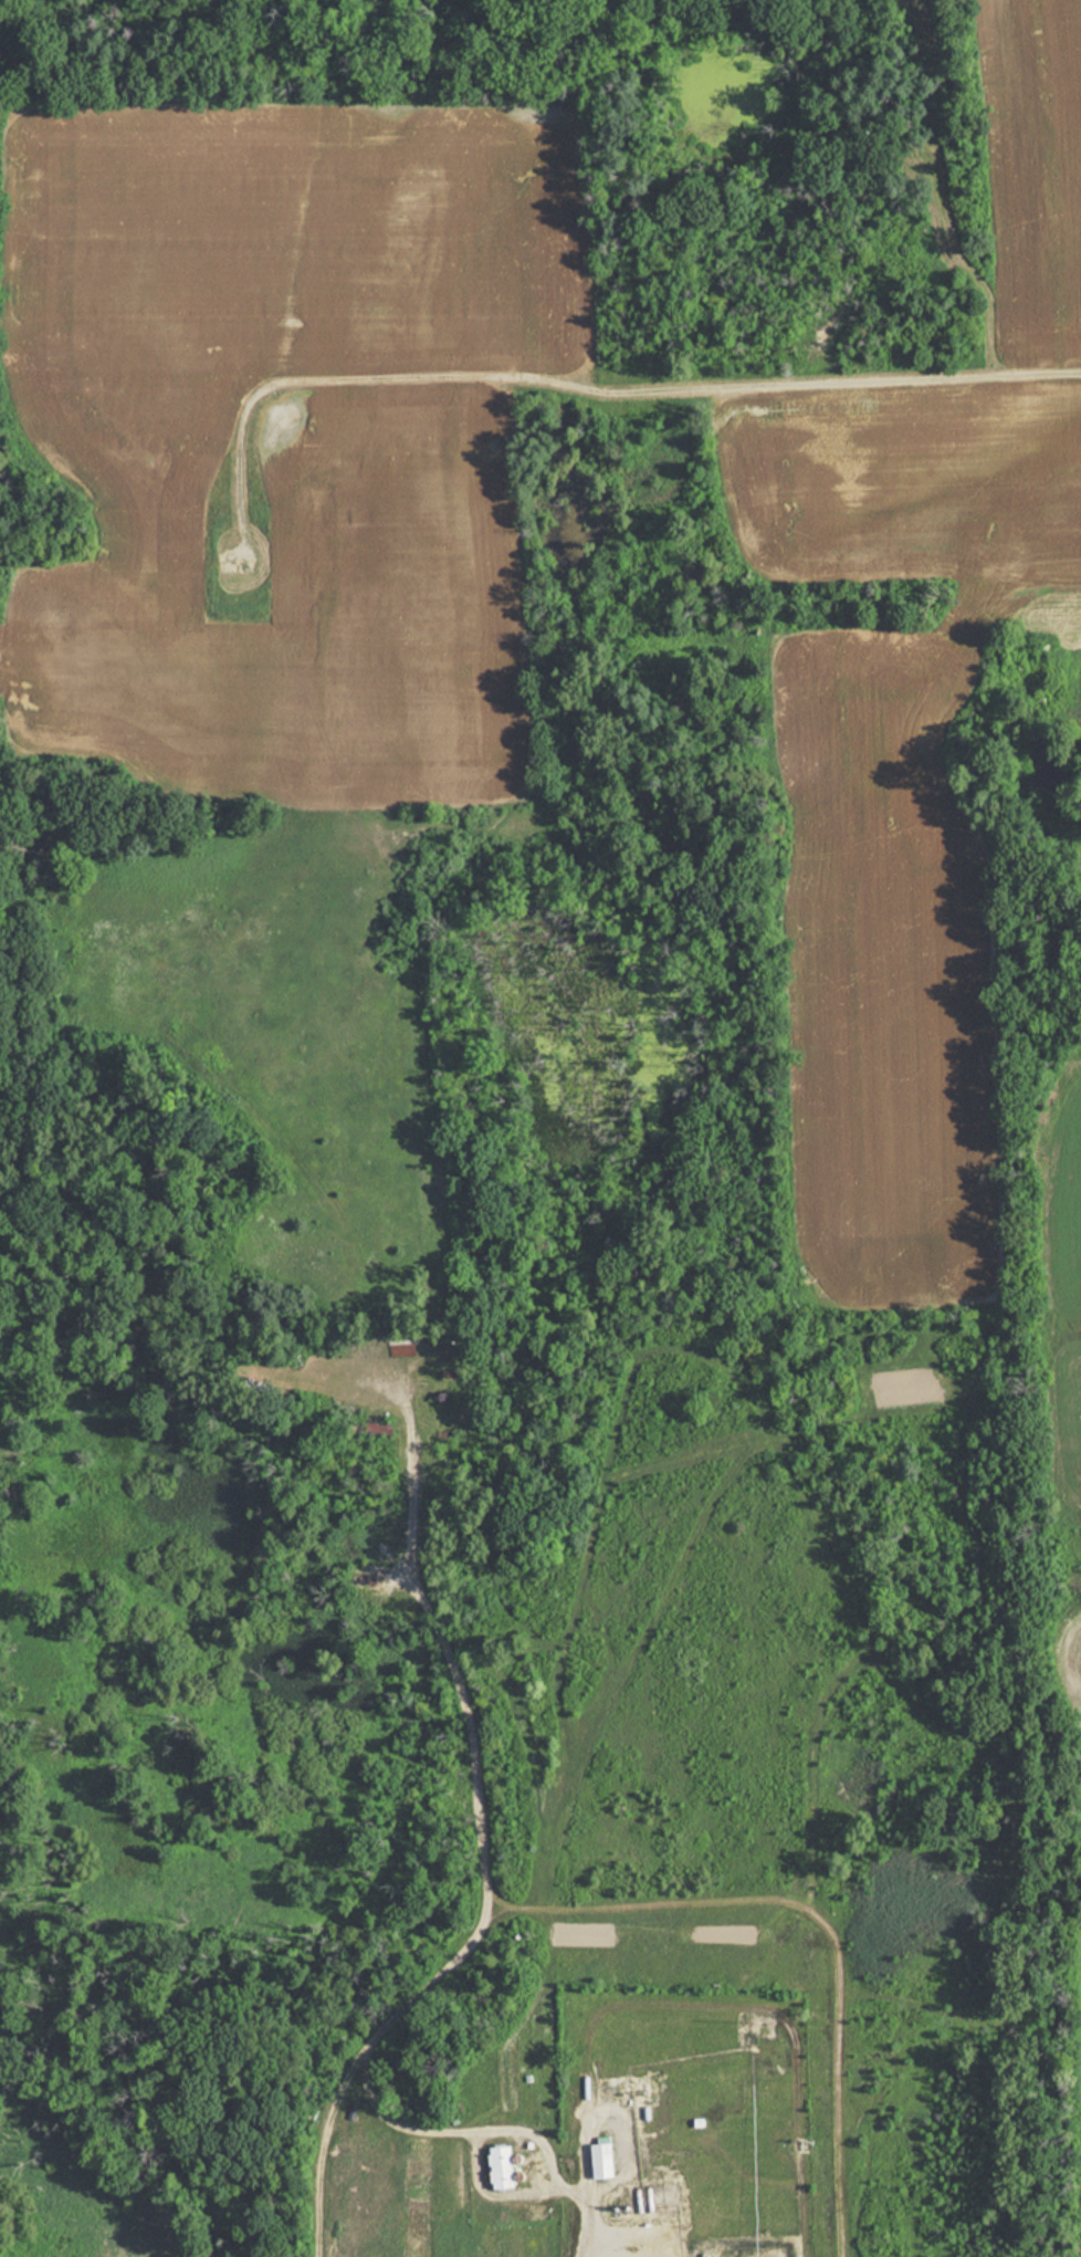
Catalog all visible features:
road: (592, 377)
petroleum well: (368, 1581)
road: (456, 1933)
building: (606, 2159)
building: (506, 2166)

